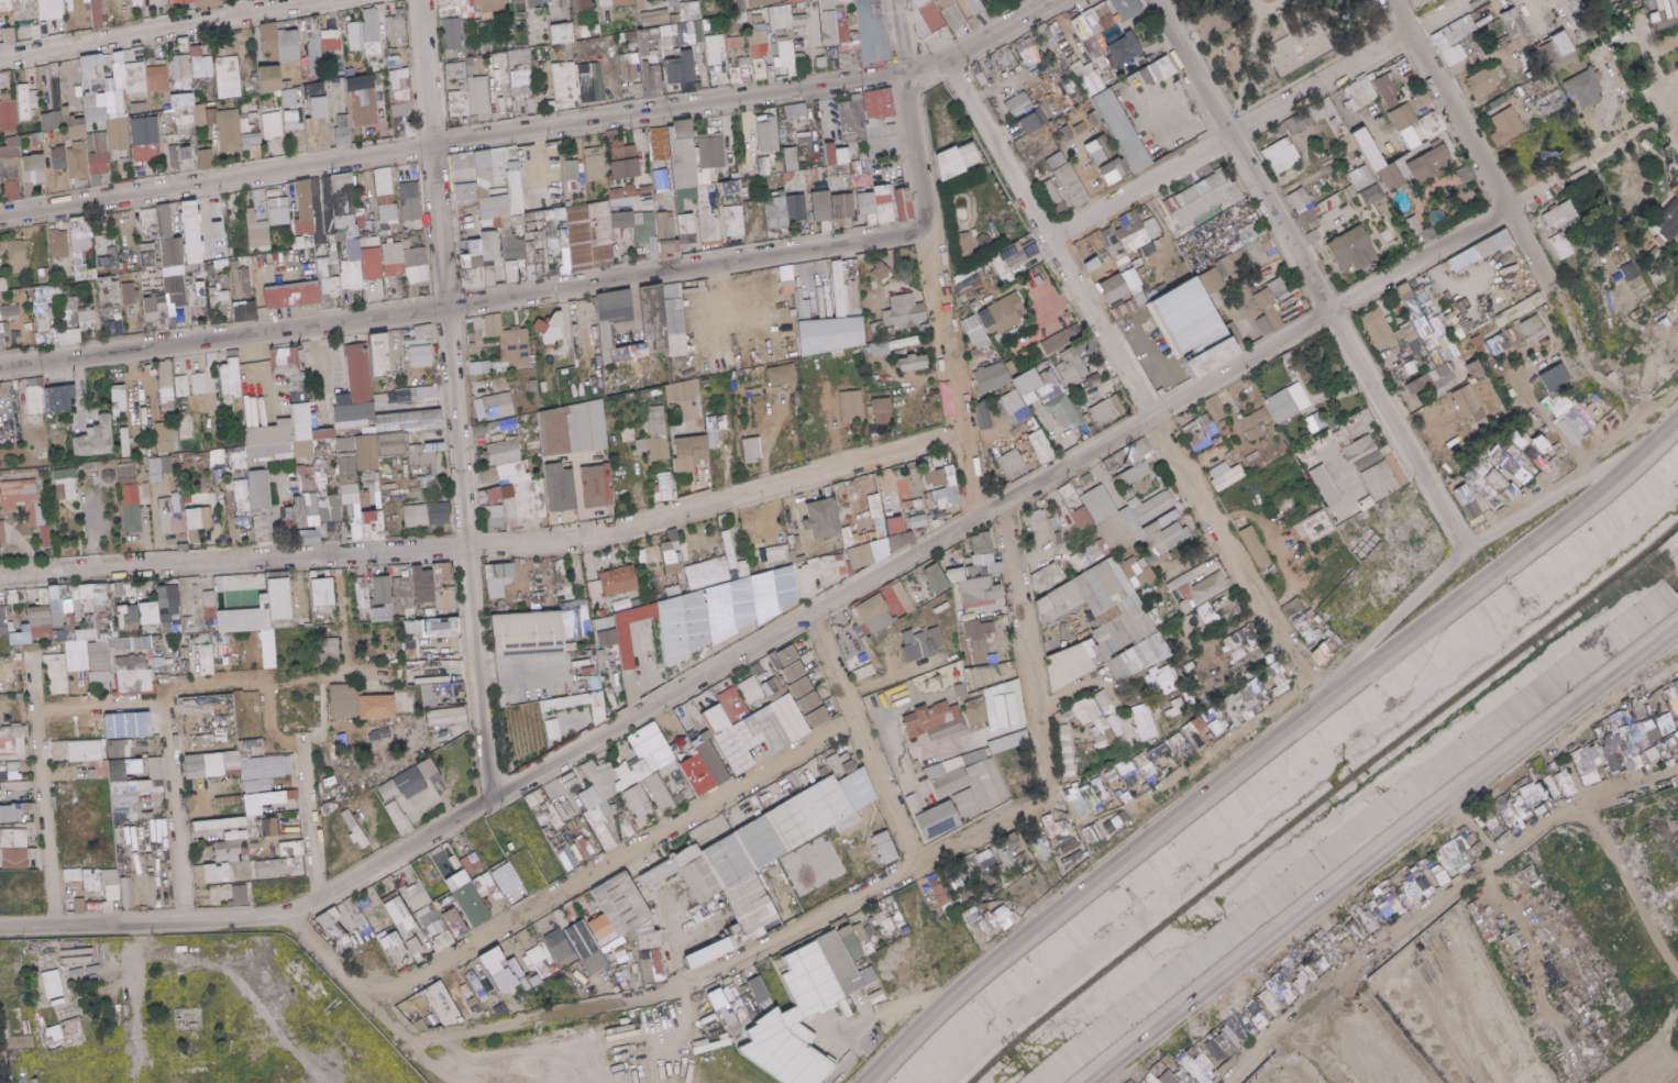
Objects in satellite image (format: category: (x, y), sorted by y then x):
park: (1269, 40)

